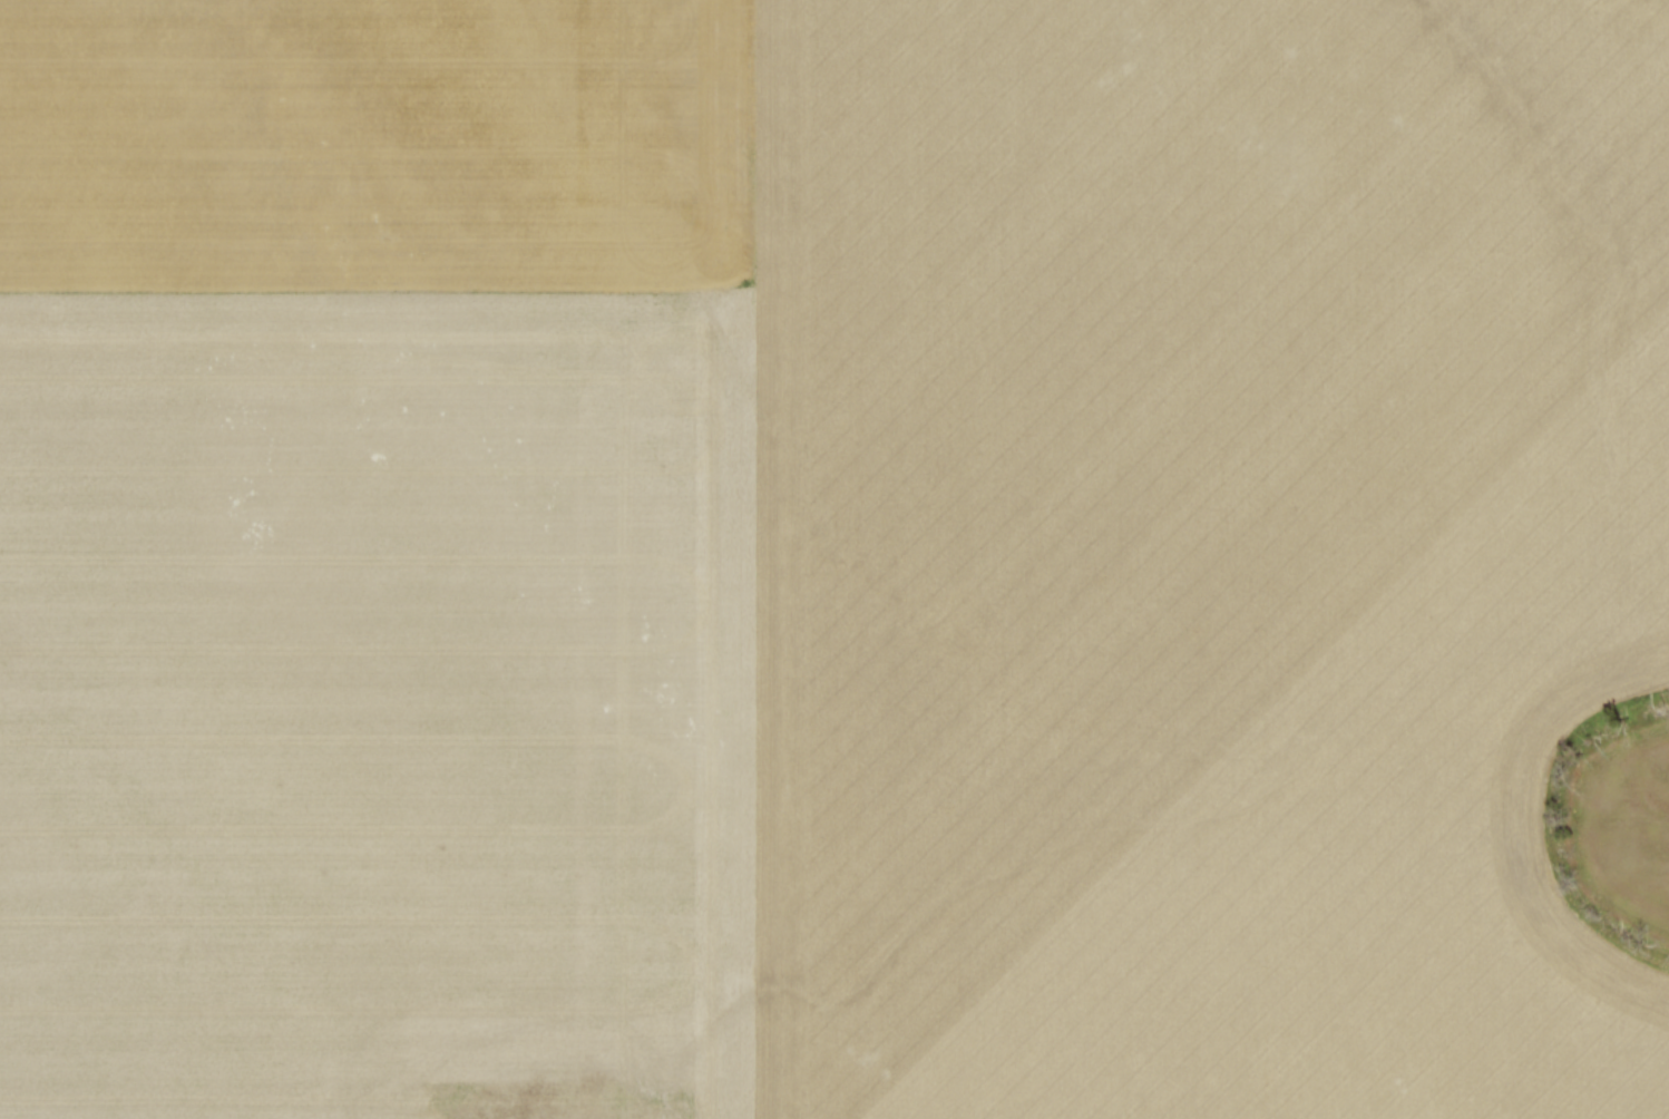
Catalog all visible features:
crop: (821, 555)

